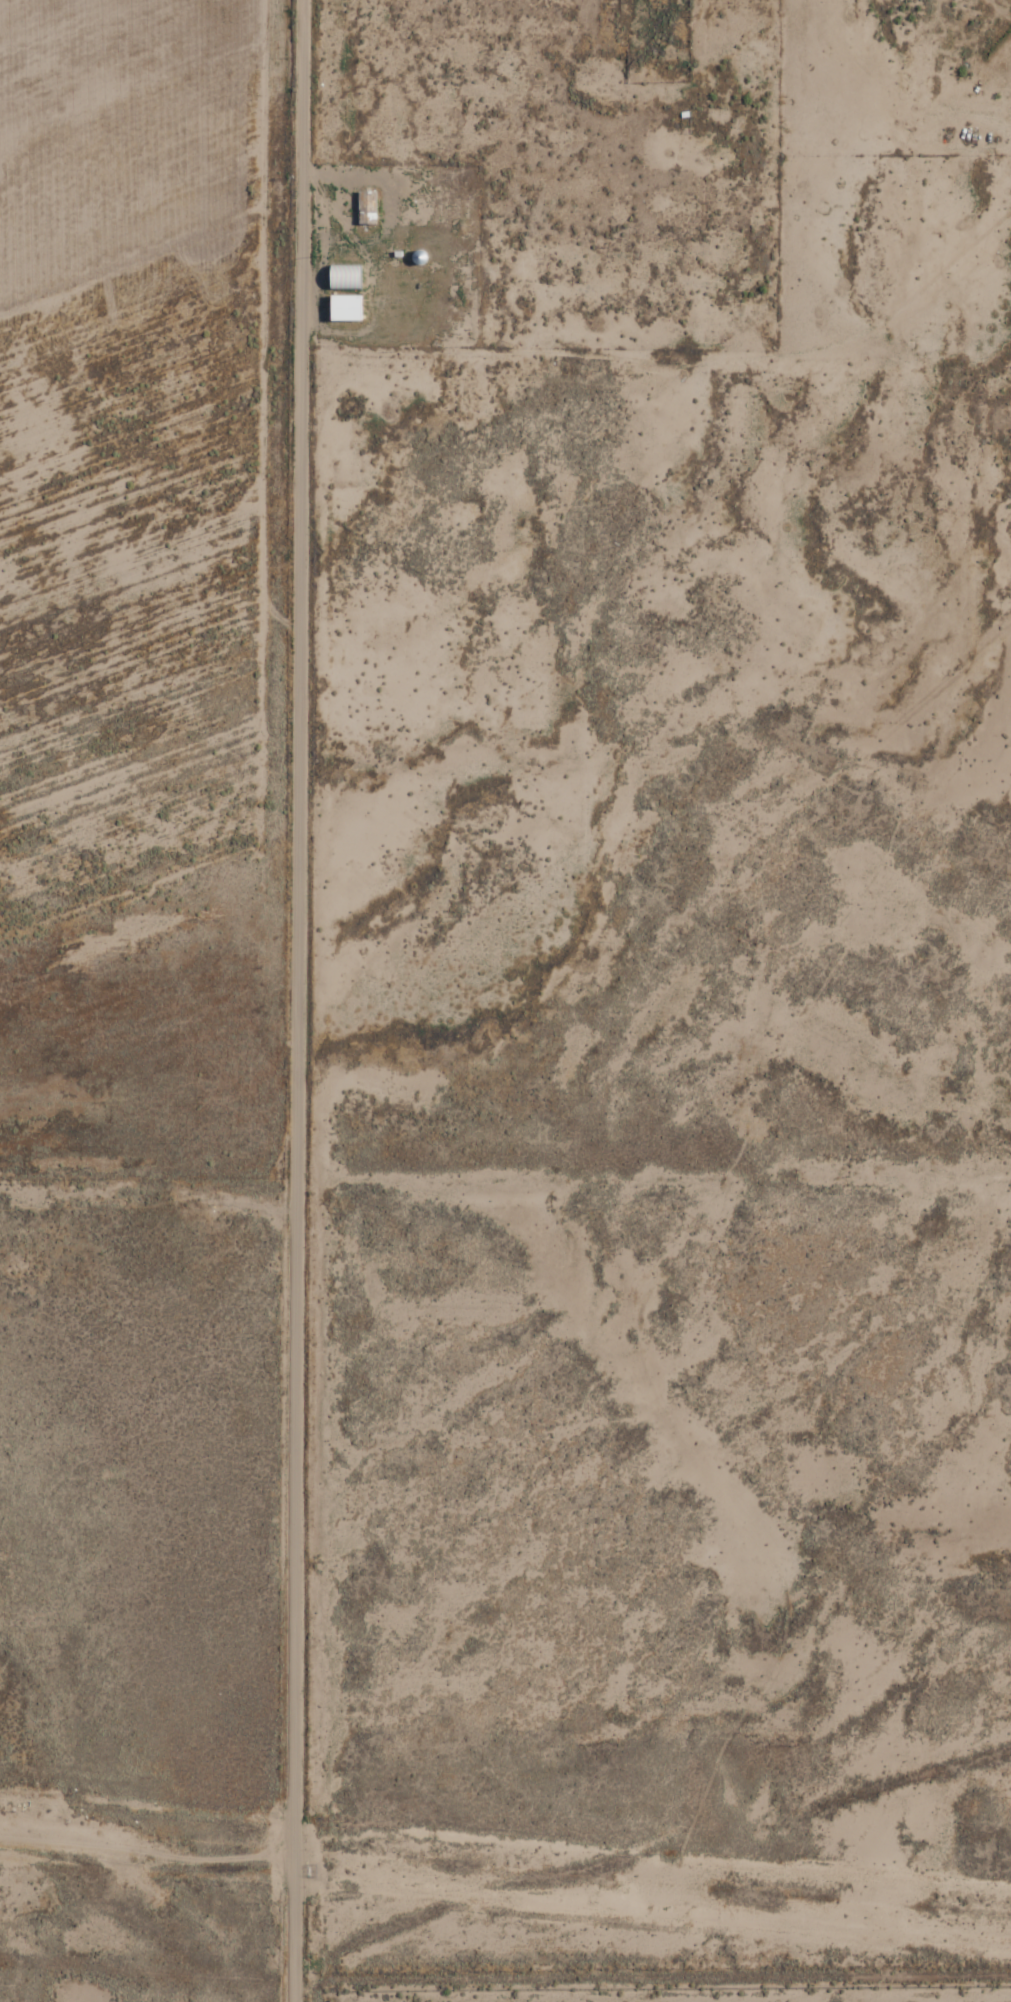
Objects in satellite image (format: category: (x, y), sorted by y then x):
road: (281, 1000)
road: (136, 1931)

